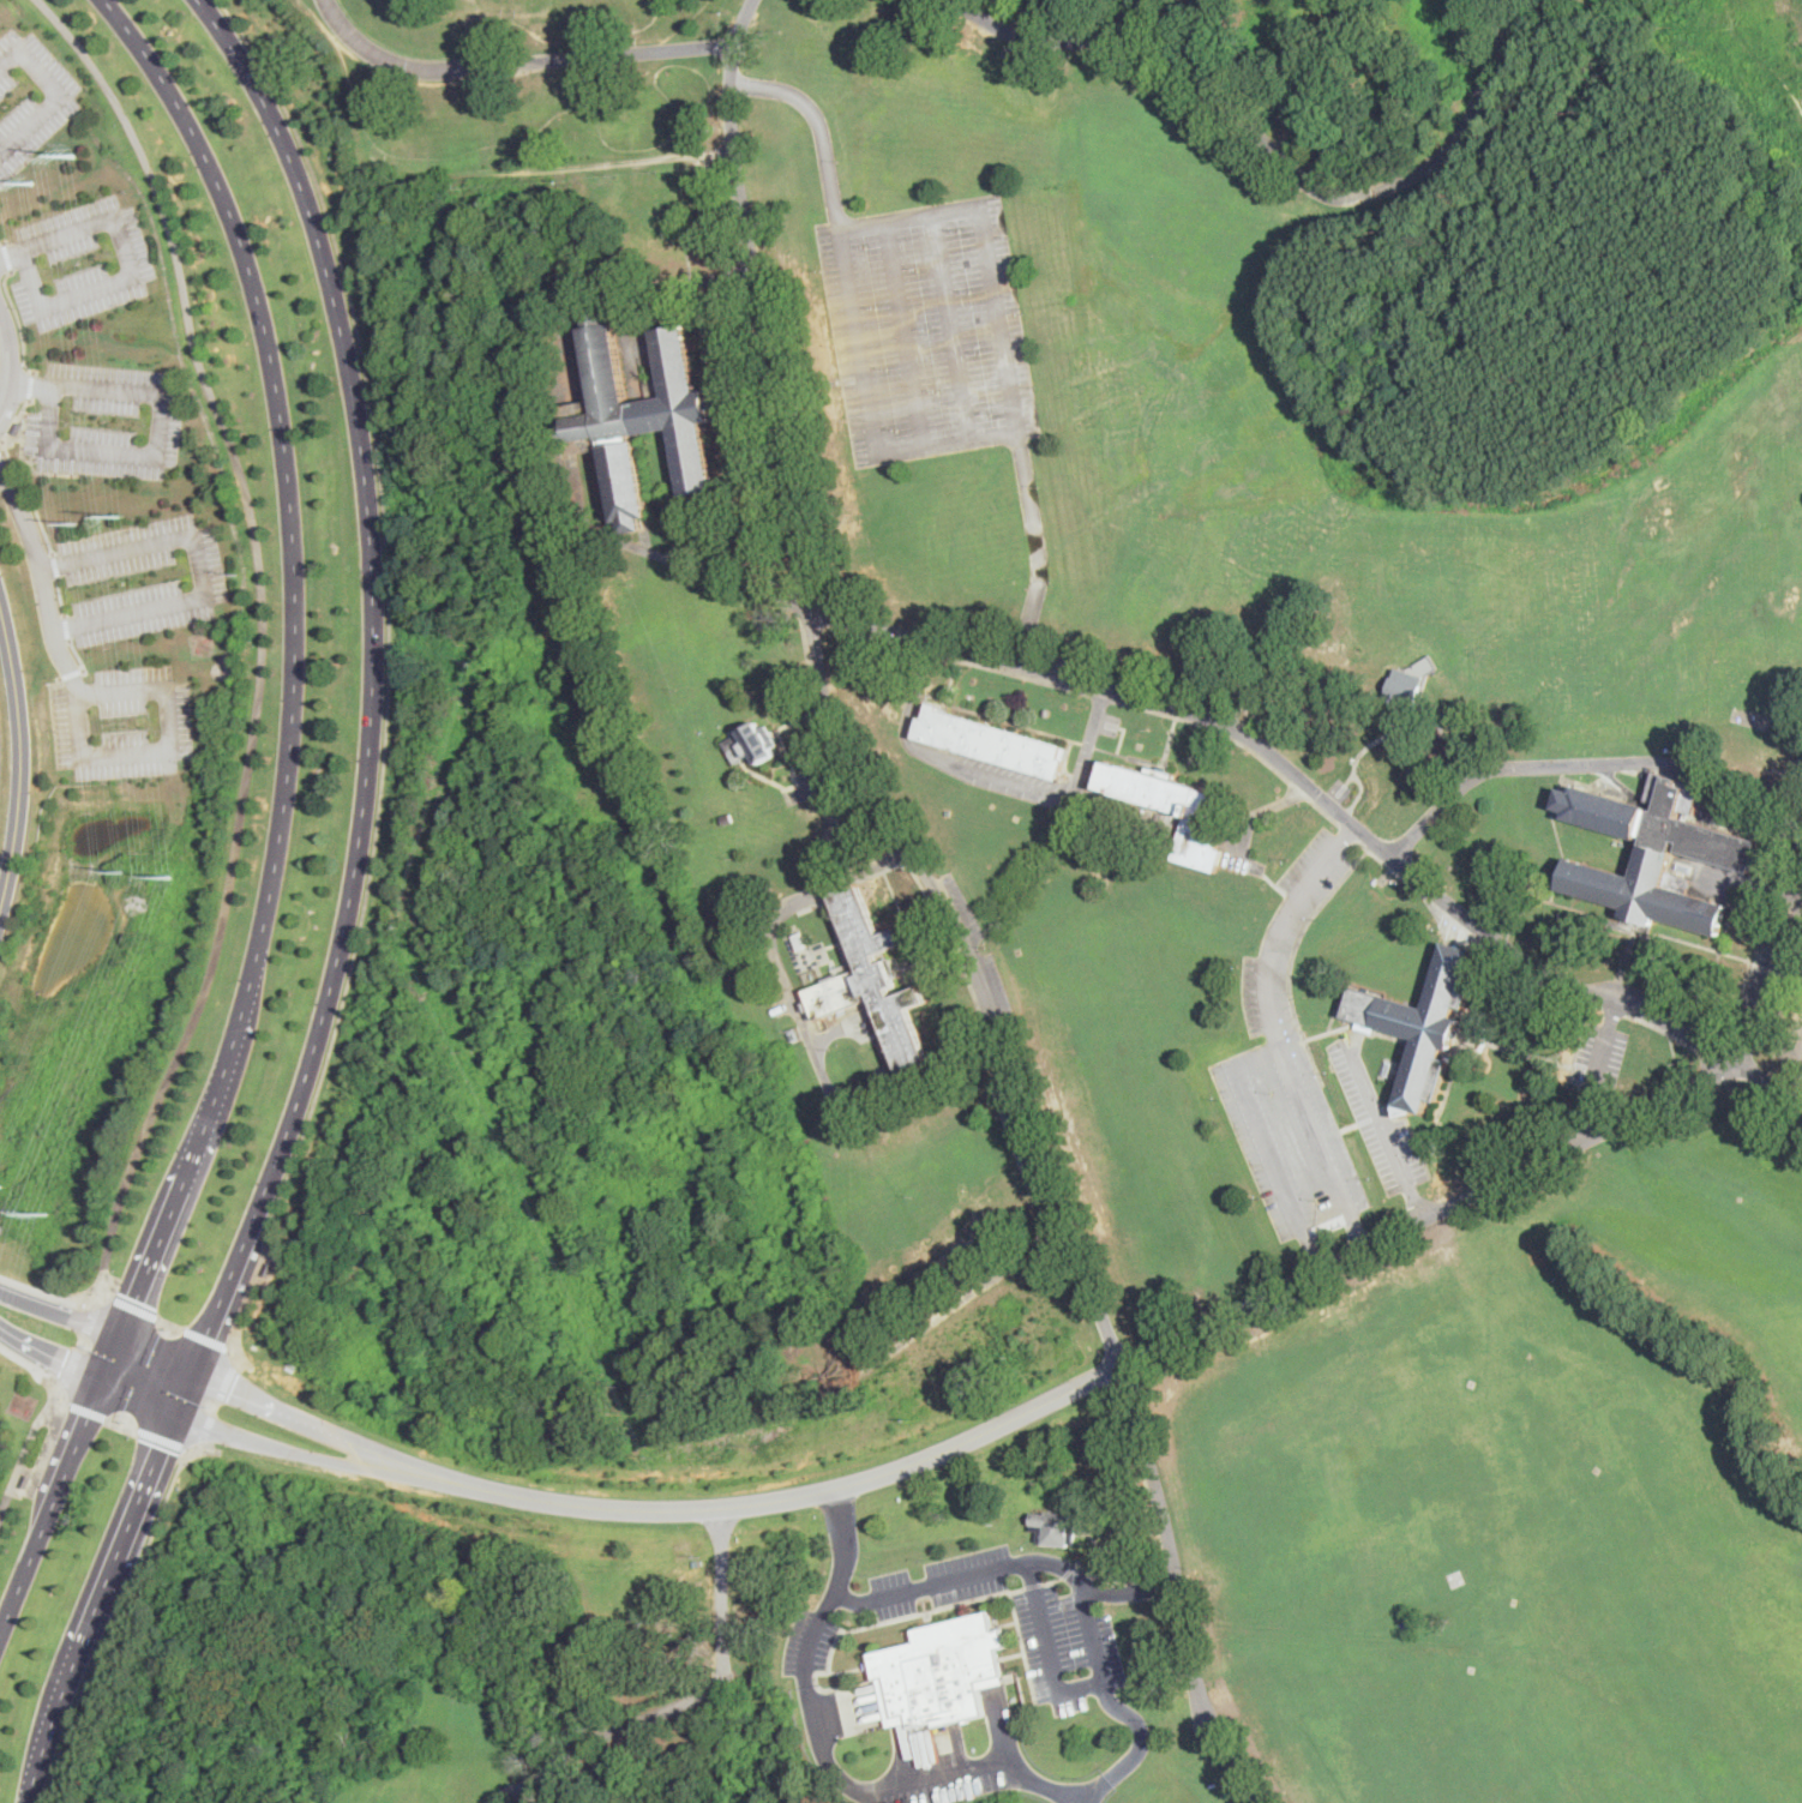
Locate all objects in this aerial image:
road: (517, 61)
road: (61, 92)
parking lot: (31, 100)
road: (822, 126)
road: (1269, 144)
power tower: (73, 156)
power tower: (31, 184)
road: (845, 232)
road: (1, 240)
road: (11, 252)
road: (6, 256)
parking lot: (82, 265)
road: (132, 275)
road: (18, 320)
road: (959, 326)
parking lot: (927, 327)
road: (906, 335)
road: (14, 357)
road: (31, 384)
building: (641, 416)
road: (18, 420)
parking lot: (108, 422)
building: (18, 427)
road: (160, 438)
road: (2, 441)
road: (561, 444)
road: (31, 495)
power tower: (121, 517)
power tower: (74, 524)
road: (1040, 547)
road: (42, 564)
road: (198, 566)
road: (55, 567)
parking lot: (142, 579)
road: (62, 599)
road: (68, 630)
road: (260, 638)
building: (1414, 642)
road: (80, 657)
road: (72, 675)
road: (388, 679)
building: (1404, 690)
road: (1103, 699)
road: (828, 709)
road: (909, 710)
road: (53, 719)
road: (797, 720)
parking lot: (125, 726)
building: (992, 743)
building: (752, 746)
road: (161, 751)
road: (18, 756)
road: (1087, 756)
road: (792, 763)
road: (1590, 764)
road: (855, 771)
parking lot: (825, 779)
road: (769, 781)
road: (823, 786)
road: (1053, 793)
road: (1329, 803)
building: (1169, 806)
building: (728, 819)
road: (281, 821)
building: (1657, 854)
power tower: (120, 875)
power tower: (168, 878)
road: (347, 910)
building: (801, 940)
park: (1436, 946)
road: (1768, 978)
parking lot: (1770, 979)
building: (871, 981)
road: (801, 1017)
building: (1423, 1024)
road: (1277, 1030)
road: (830, 1034)
building: (863, 1034)
building: (795, 1035)
parking lot: (1792, 1042)
parking lot: (1599, 1059)
road: (1597, 1068)
parking lot: (1290, 1069)
parking lot: (1378, 1120)
road: (1387, 1132)
road: (1268, 1144)
power tower: (1, 1186)
road: (1428, 1214)
power tower: (48, 1216)
building: (268, 1268)
road: (46, 1291)
road: (104, 1294)
traffic signals: (137, 1300)
road: (35, 1304)
road: (133, 1309)
road: (943, 1314)
road: (170, 1326)
road: (132, 1341)
road: (208, 1342)
road: (31, 1346)
road: (79, 1346)
traffic signals: (64, 1364)
road: (235, 1364)
road: (31, 1365)
road: (118, 1389)
traffic signals: (234, 1389)
road: (62, 1401)
road: (218, 1404)
road: (86, 1411)
road: (122, 1425)
road: (337, 1432)
road: (162, 1440)
road: (202, 1446)
traffic signals: (161, 1447)
road: (188, 1450)
road: (26, 1452)
road: (326, 1459)
building: (26, 1479)
road: (815, 1491)
building: (1056, 1528)
road: (845, 1545)
road: (1173, 1555)
road: (1017, 1563)
road: (1105, 1568)
road: (1068, 1570)
road: (1052, 1580)
road: (1033, 1585)
road: (1074, 1586)
road: (1100, 1589)
road: (120, 1611)
parking lot: (1026, 1615)
road: (927, 1618)
road: (890, 1619)
road: (1092, 1633)
road: (810, 1640)
parking lot: (807, 1641)
building: (942, 1670)
road: (816, 1673)
road: (693, 1695)
road: (1002, 1726)
road: (825, 1754)
road: (1121, 1768)
road: (954, 1771)
building: (608, 1773)
road: (1241, 1774)
parking lot: (942, 1778)
road: (512, 1787)

